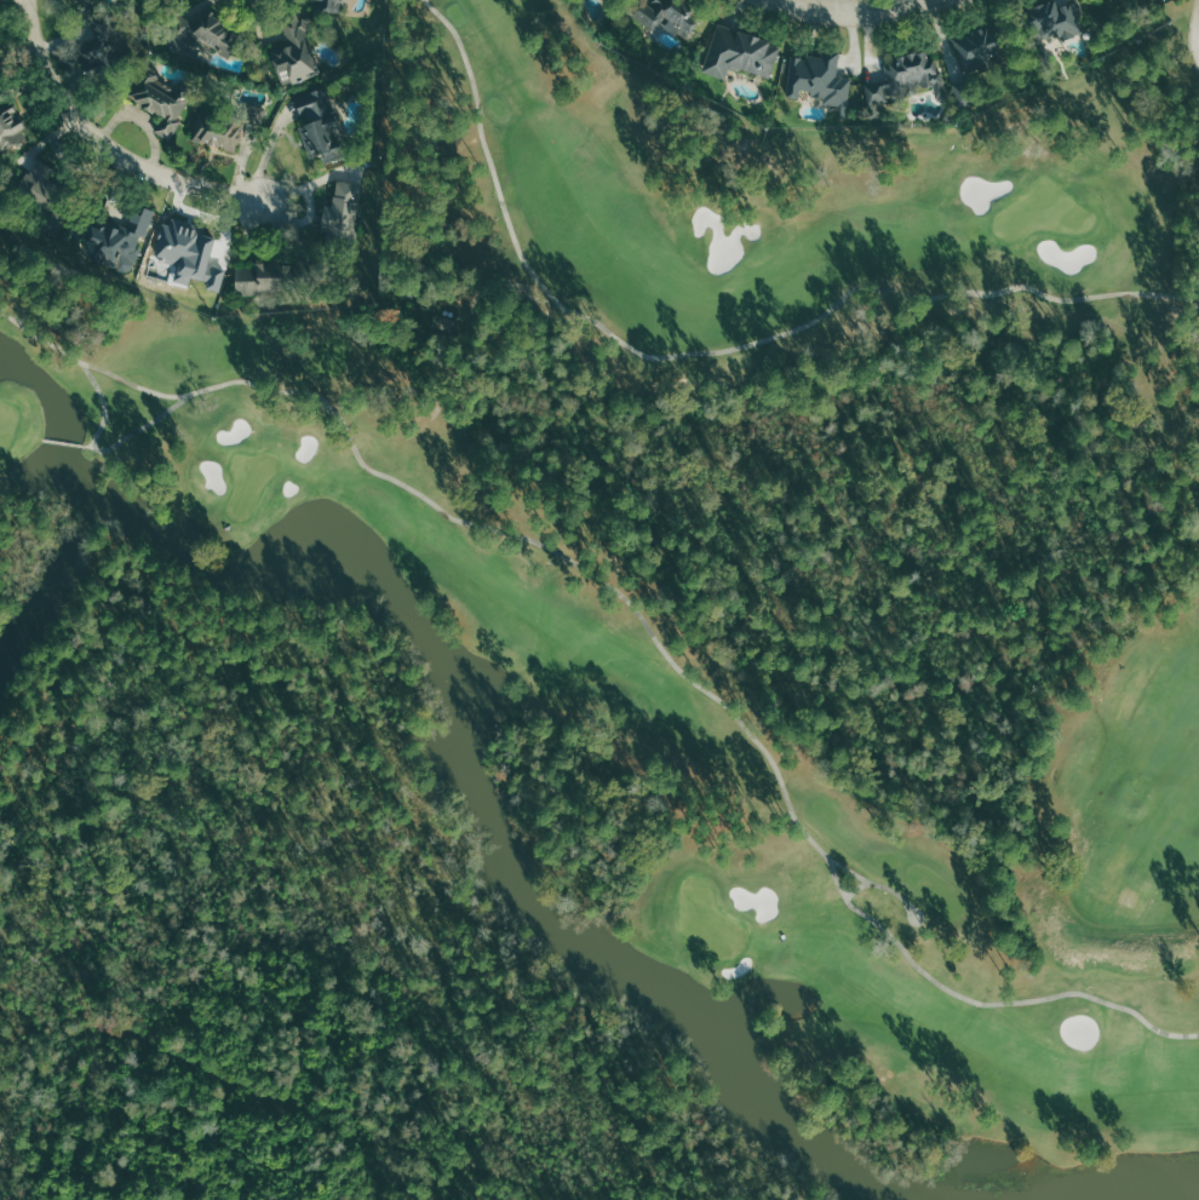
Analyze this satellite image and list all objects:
building: (82, 0)
building: (326, 5)
road: (848, 10)
building: (670, 17)
building: (1052, 21)
road: (1197, 35)
building: (201, 36)
building: (979, 48)
building: (296, 52)
building: (740, 53)
building: (819, 80)
building: (160, 102)
building: (10, 125)
building: (319, 126)
road: (104, 143)
building: (38, 191)
building: (342, 209)
park: (1042, 212)
building: (113, 240)
building: (189, 251)
building: (258, 279)
road: (713, 350)
park: (6, 421)
road: (64, 442)
road: (101, 447)
building: (145, 450)
park: (248, 480)
park: (765, 559)
road: (643, 621)
park: (706, 918)

